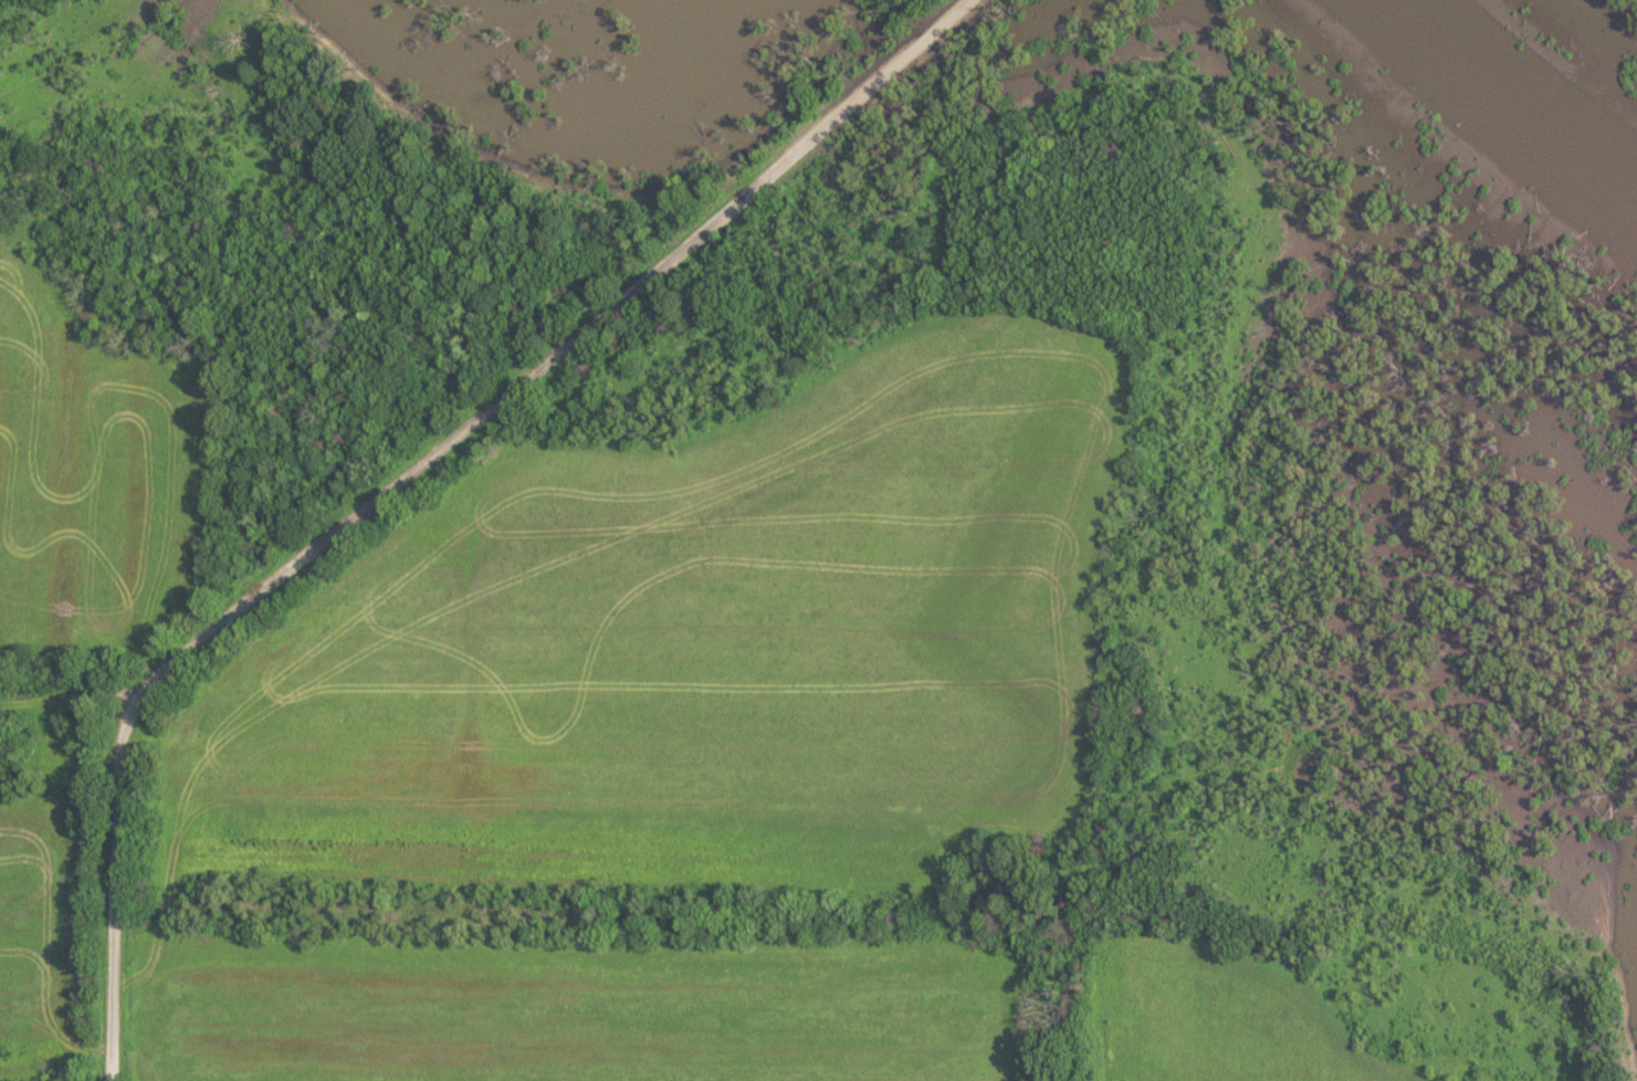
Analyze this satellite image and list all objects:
river: (1498, 105)
road: (560, 357)
road: (69, 697)
road: (116, 888)

